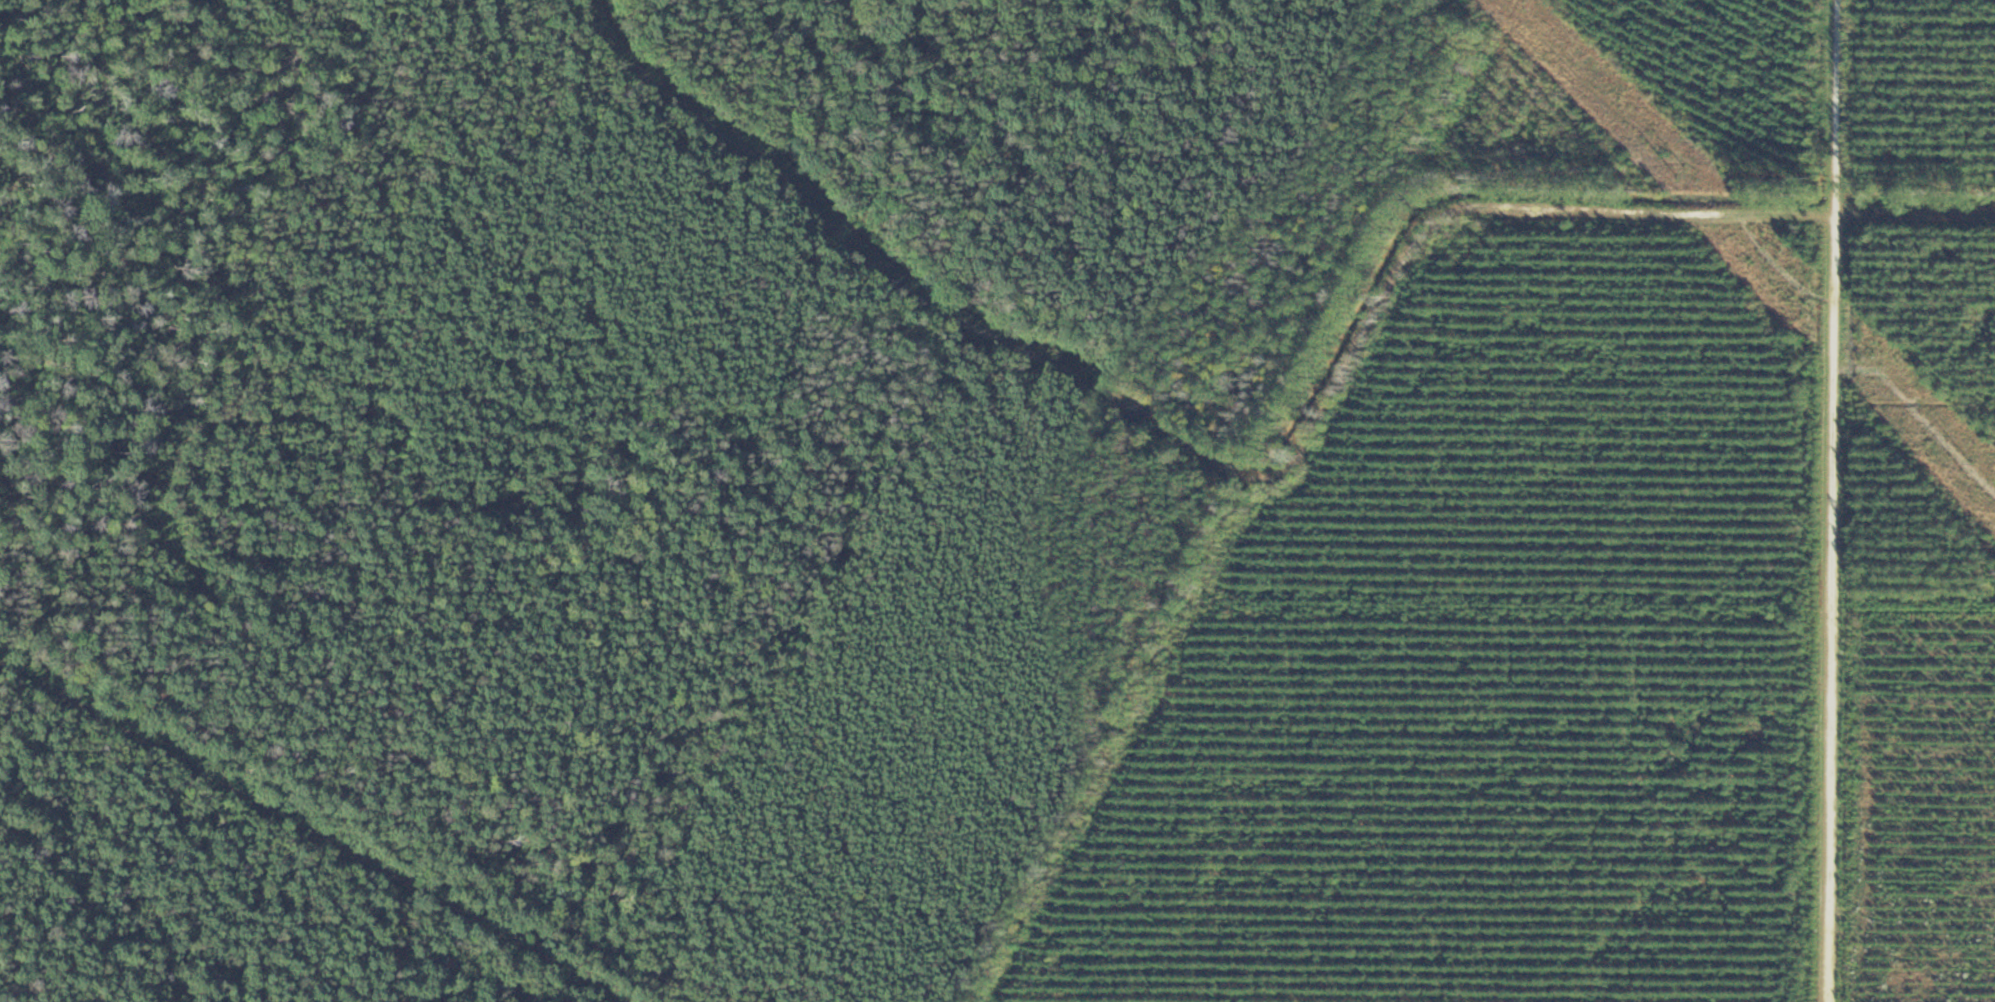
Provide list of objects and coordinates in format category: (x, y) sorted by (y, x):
power tower: (1686, 174)
power tower: (1968, 466)
road: (1889, 501)

